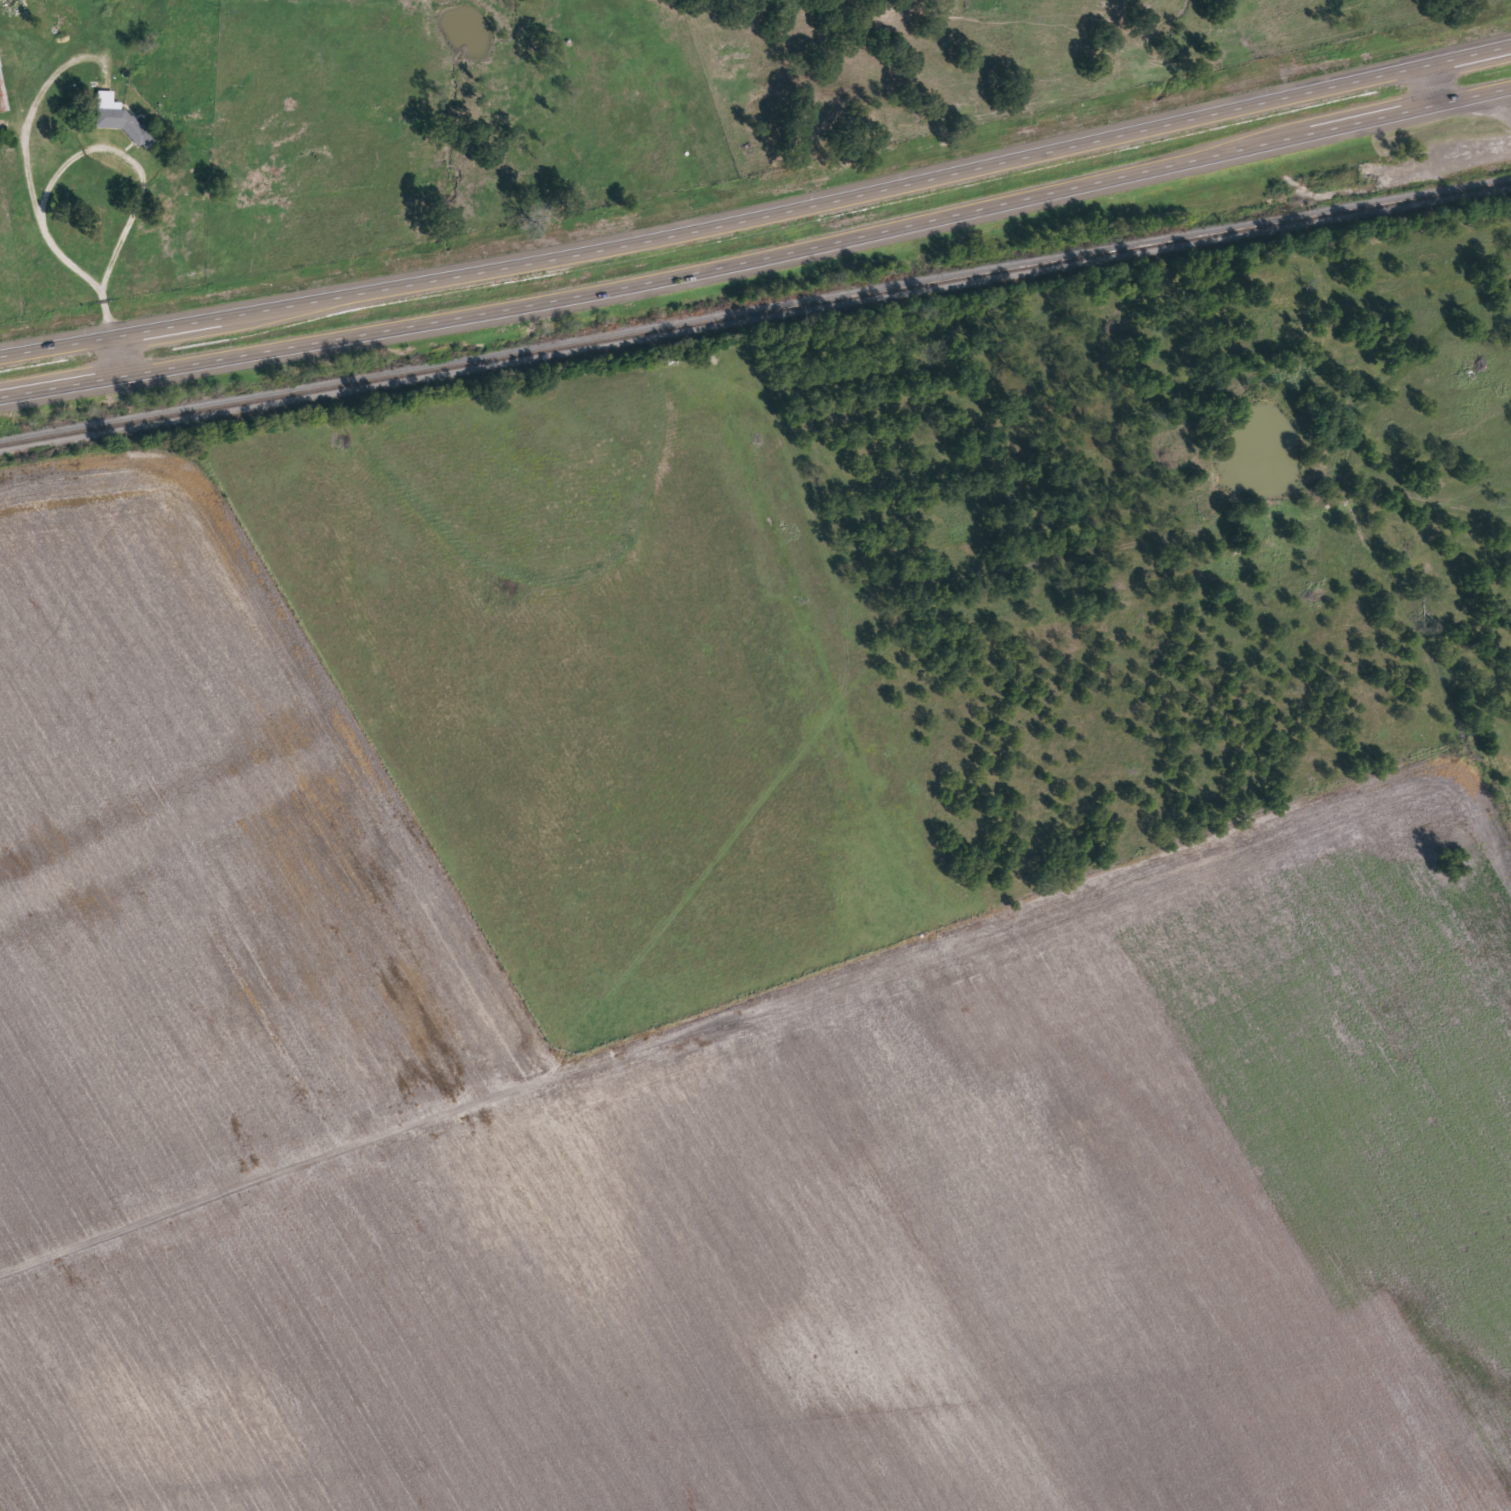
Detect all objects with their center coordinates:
building: (0, 64)
road: (1428, 86)
road: (671, 106)
road: (24, 139)
road: (131, 191)
road: (757, 211)
road: (758, 259)
railway: (755, 313)
road: (778, 979)

